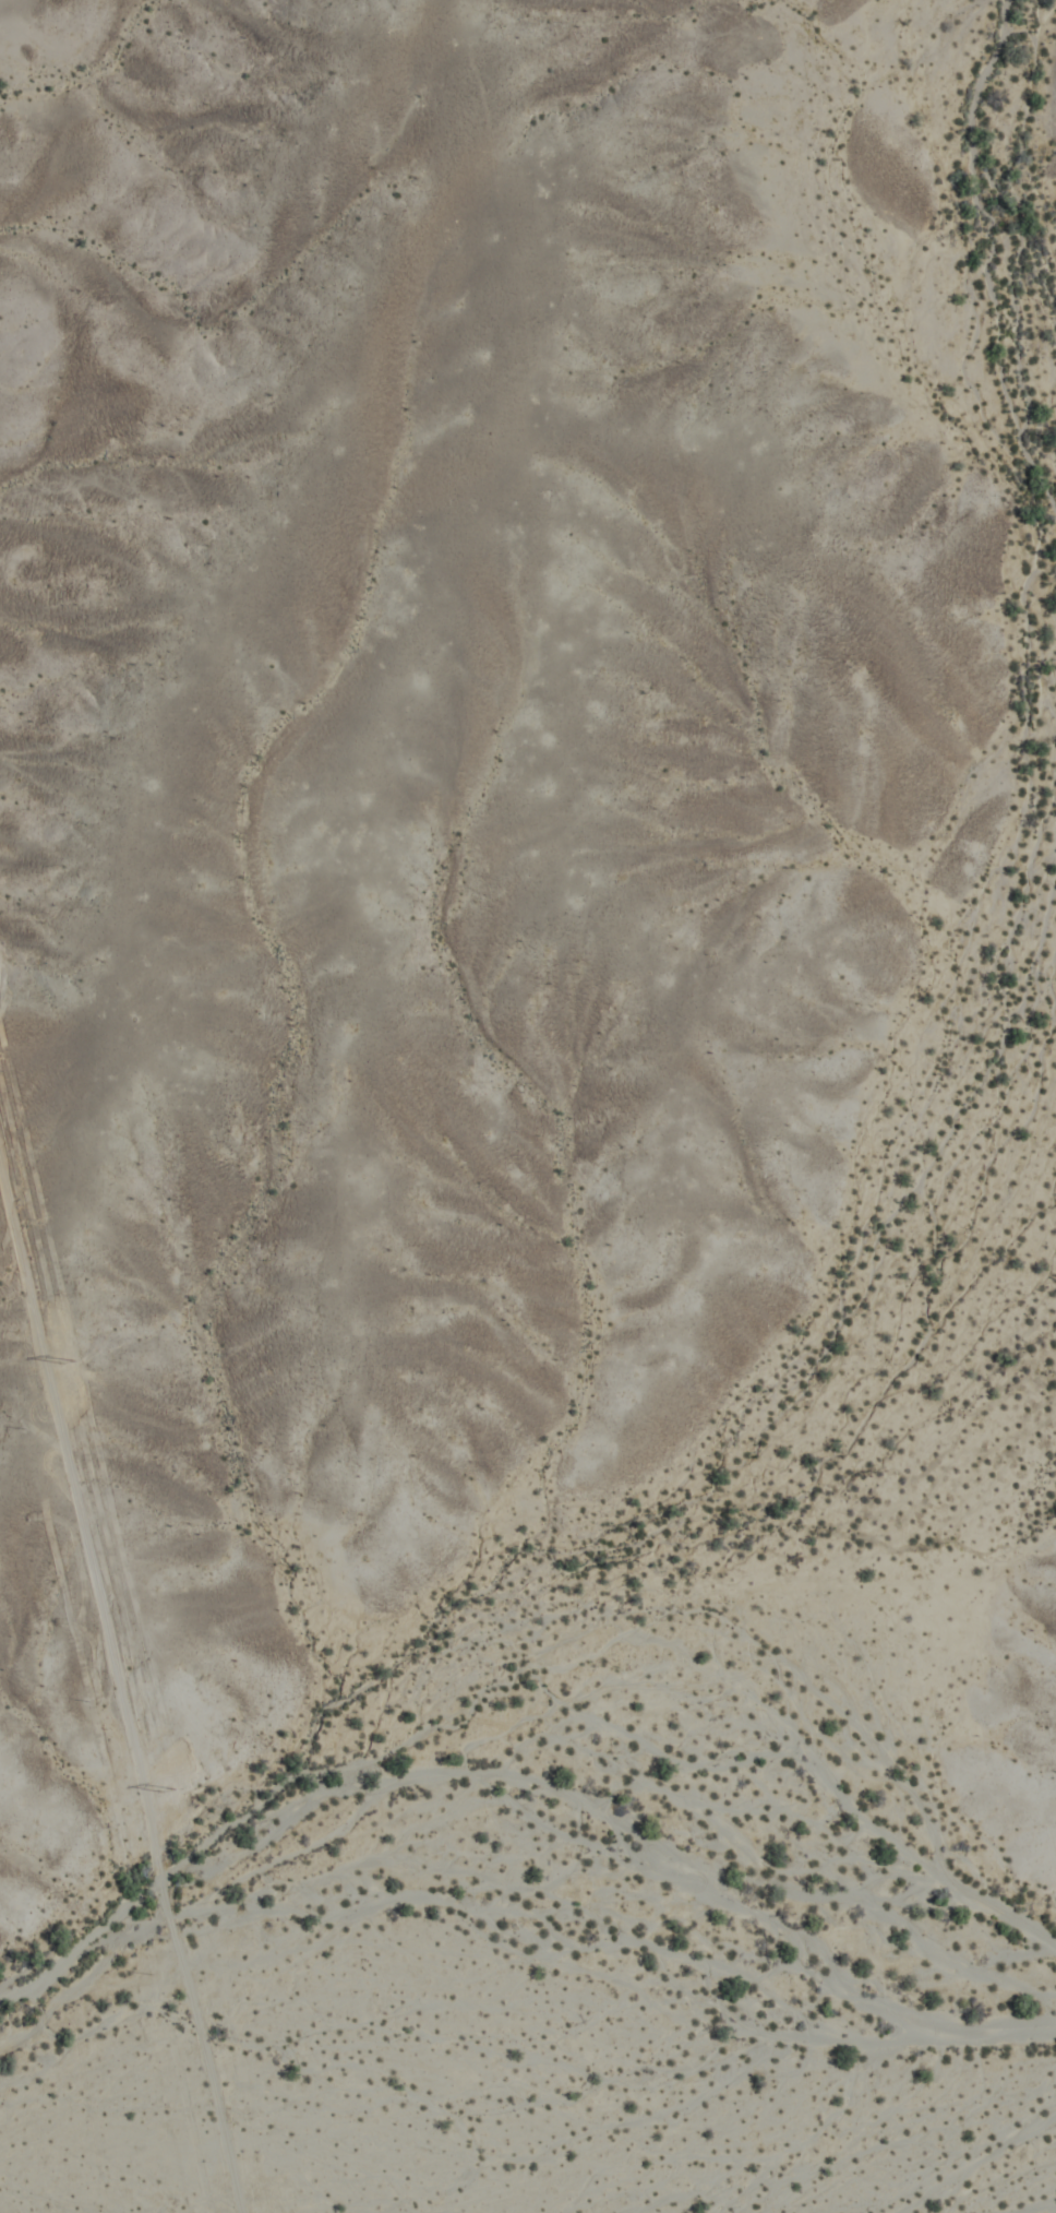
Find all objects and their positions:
power tower: (75, 1365)
power tower: (171, 1792)

